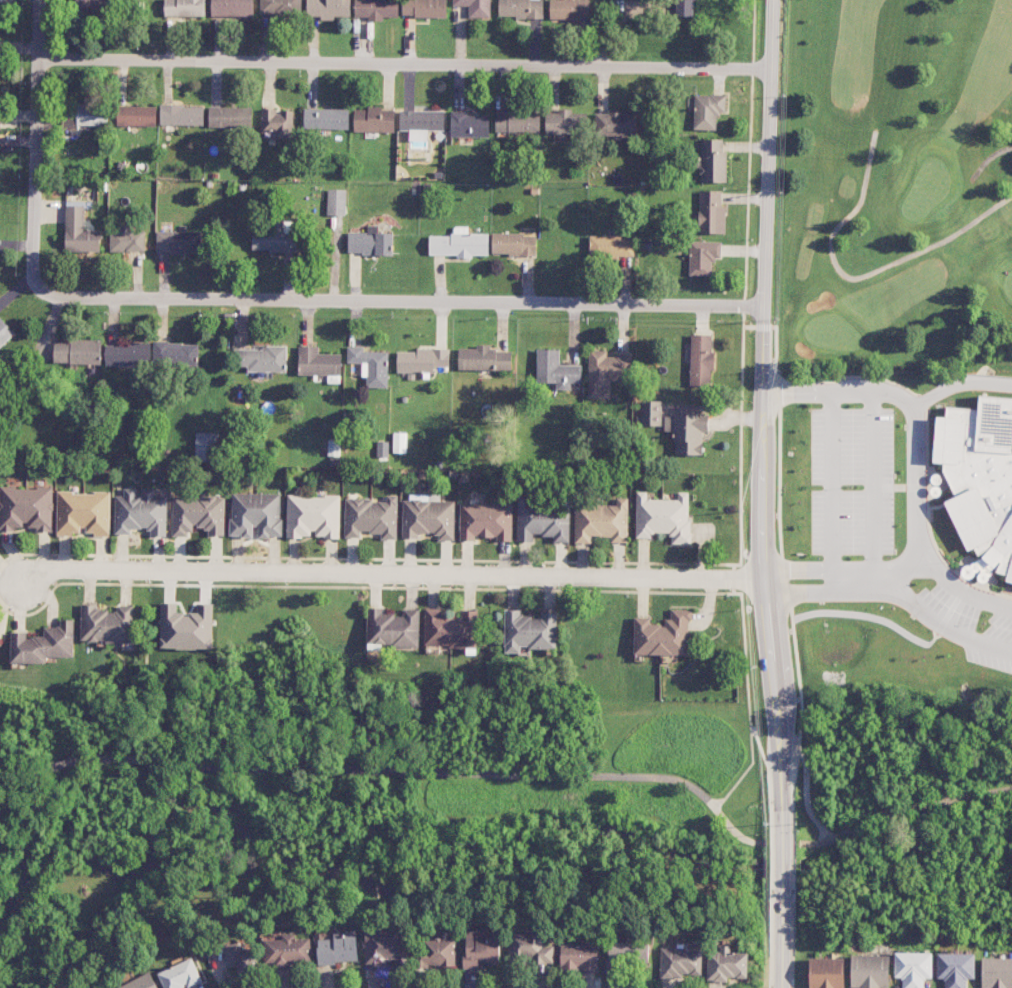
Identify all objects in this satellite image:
building: (92, 5)
building: (281, 7)
building: (475, 7)
building: (185, 8)
building: (232, 8)
building: (328, 8)
building: (424, 8)
building: (521, 8)
building: (684, 8)
building: (376, 9)
building: (569, 9)
road: (404, 62)
building: (708, 110)
building: (93, 115)
building: (136, 115)
building: (181, 115)
building: (230, 117)
building: (326, 118)
building: (374, 120)
building: (70, 122)
building: (278, 122)
building: (517, 122)
building: (565, 122)
building: (421, 123)
building: (469, 124)
building: (615, 124)
road: (35, 155)
building: (713, 161)
park: (899, 186)
building: (336, 202)
building: (711, 212)
building: (79, 232)
building: (275, 237)
building: (127, 240)
building: (178, 241)
building: (370, 242)
building: (459, 243)
building: (514, 244)
building: (611, 246)
building: (703, 257)
road: (411, 300)
building: (5, 332)
building: (77, 352)
building: (127, 354)
building: (175, 355)
building: (263, 359)
building: (422, 359)
building: (484, 359)
building: (701, 360)
building: (318, 362)
building: (370, 365)
building: (556, 370)
building: (606, 372)
road: (795, 386)
road: (848, 387)
building: (651, 412)
building: (687, 432)
building: (399, 442)
building: (206, 446)
building: (382, 448)
building: (980, 476)
road: (869, 488)
road: (757, 494)
building: (26, 508)
building: (140, 511)
building: (83, 513)
building: (198, 514)
building: (255, 514)
building: (313, 516)
building: (371, 517)
building: (663, 517)
building: (428, 518)
building: (486, 521)
building: (602, 522)
building: (543, 524)
road: (897, 566)
road: (794, 568)
road: (850, 568)
road: (384, 572)
road: (897, 581)
road: (963, 589)
road: (850, 590)
road: (795, 592)
road: (939, 622)
building: (107, 624)
building: (186, 627)
building: (393, 628)
building: (450, 628)
building: (530, 630)
building: (663, 635)
building: (44, 644)
road: (748, 699)
road: (376, 771)
road: (905, 806)
building: (387, 947)
building: (481, 947)
building: (338, 948)
building: (530, 949)
building: (288, 950)
building: (438, 952)
building: (626, 955)
building: (579, 958)
building: (242, 959)
building: (680, 962)
building: (726, 965)
building: (913, 968)
building: (955, 969)
building: (870, 971)
building: (996, 972)
building: (826, 973)
building: (181, 975)
building: (141, 982)

